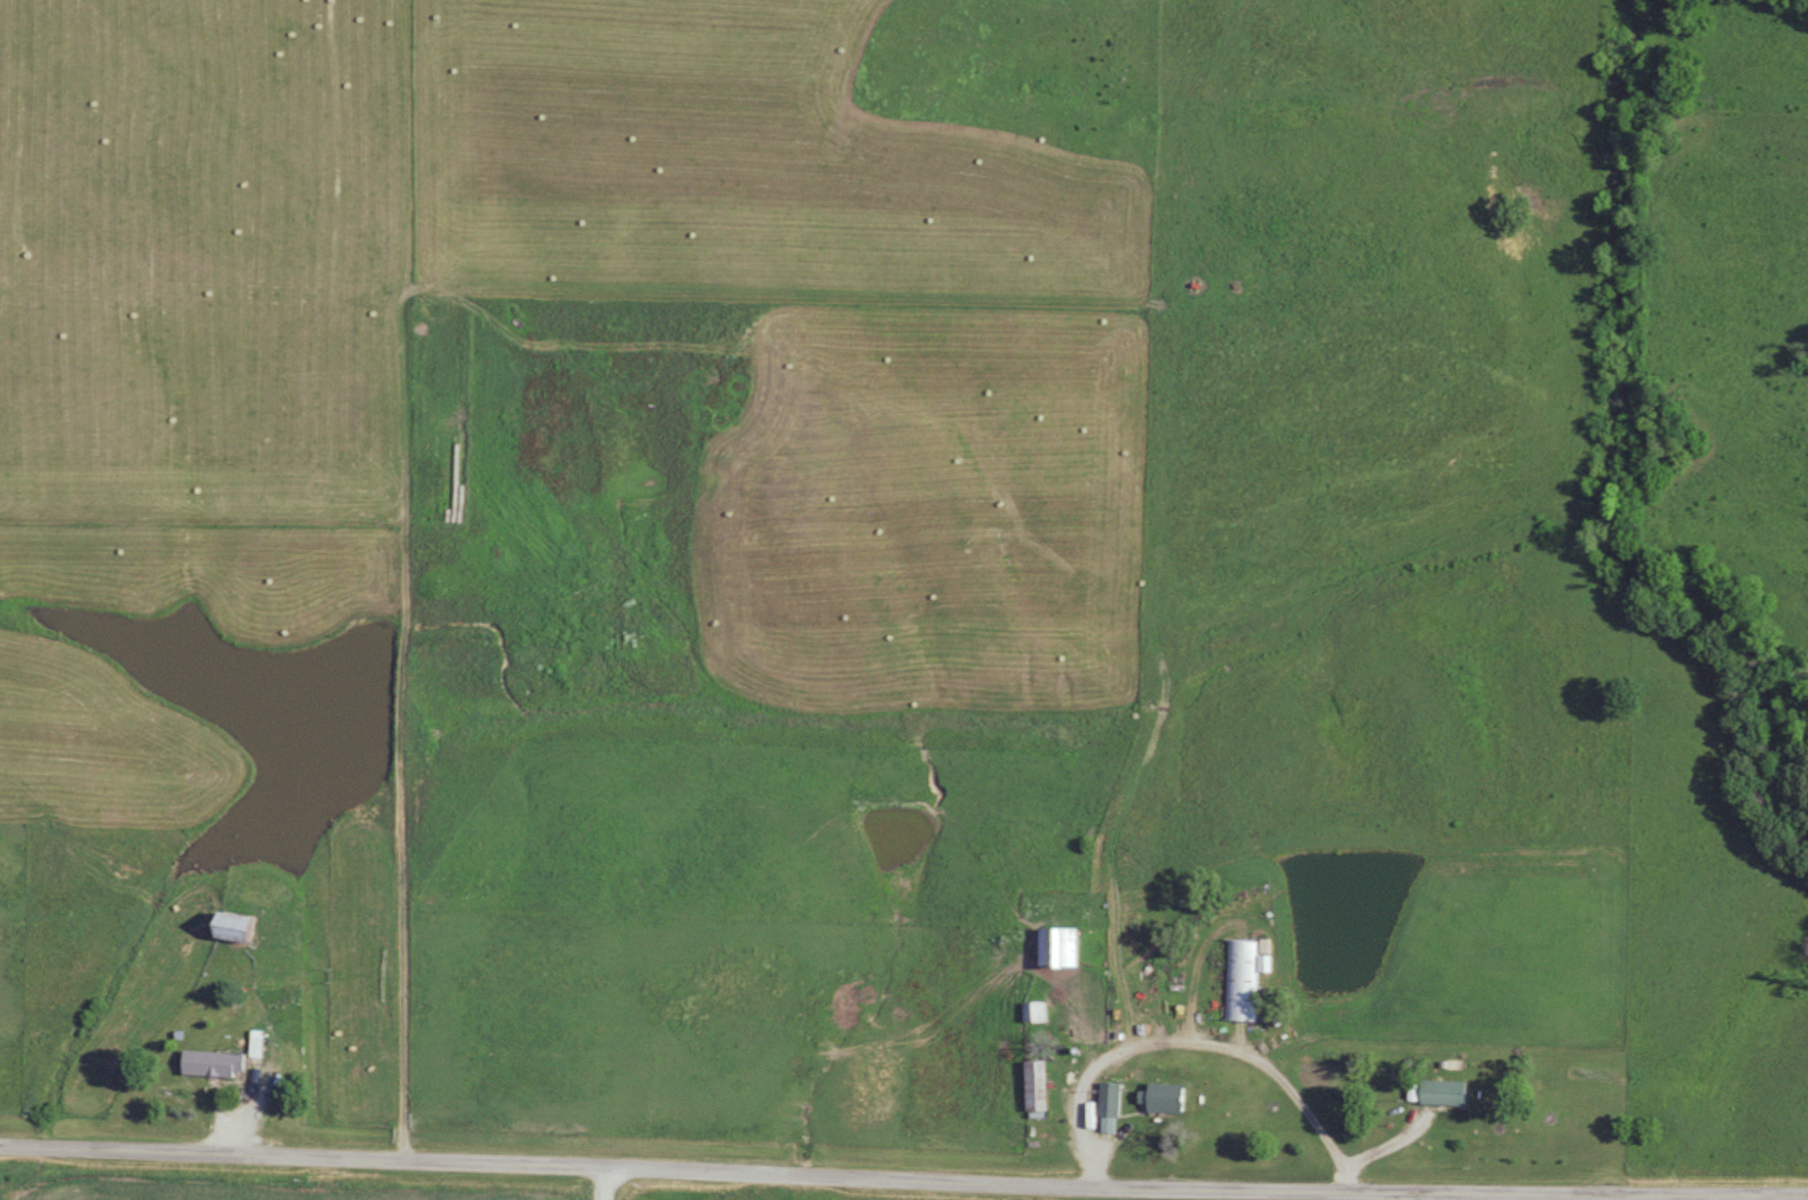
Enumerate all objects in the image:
building: (1057, 946)
building: (1243, 978)
building: (1033, 1011)
building: (255, 1043)
building: (1033, 1085)
building: (1437, 1092)
road: (903, 1177)
road: (599, 1183)

